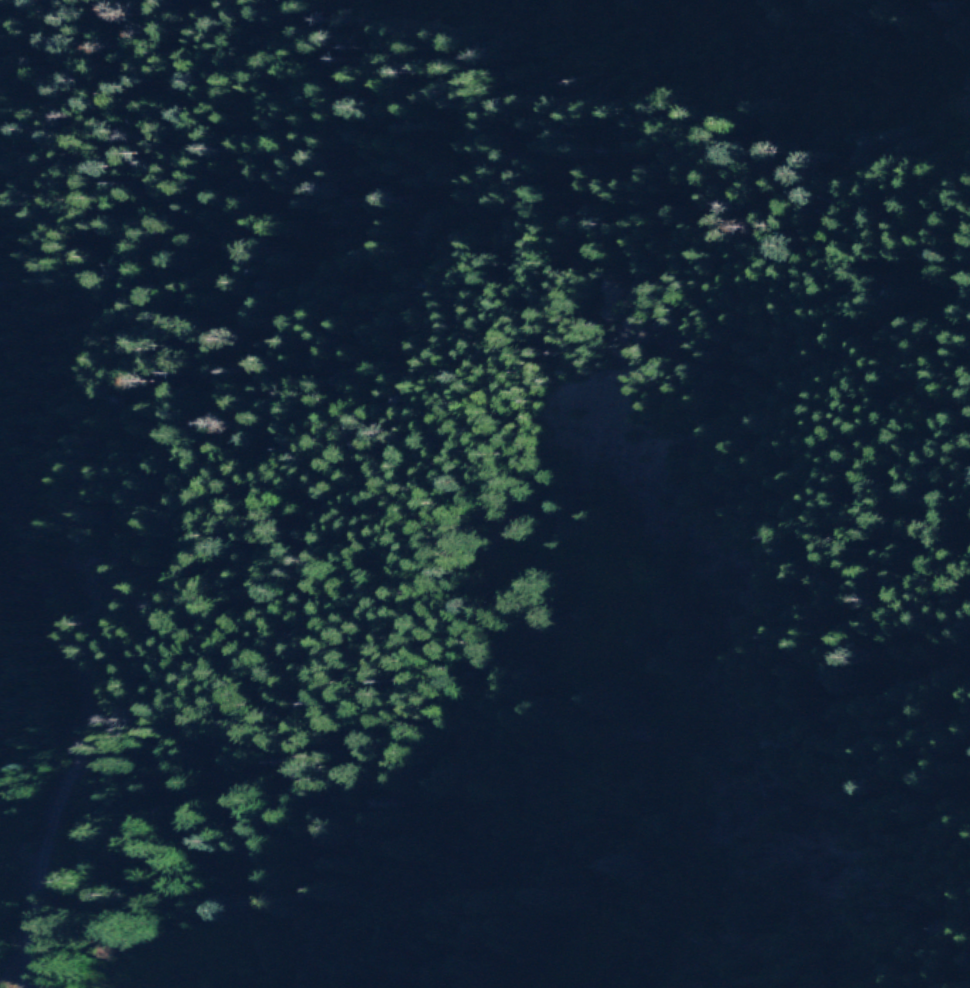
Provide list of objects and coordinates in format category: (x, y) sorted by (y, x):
road: (33, 796)

